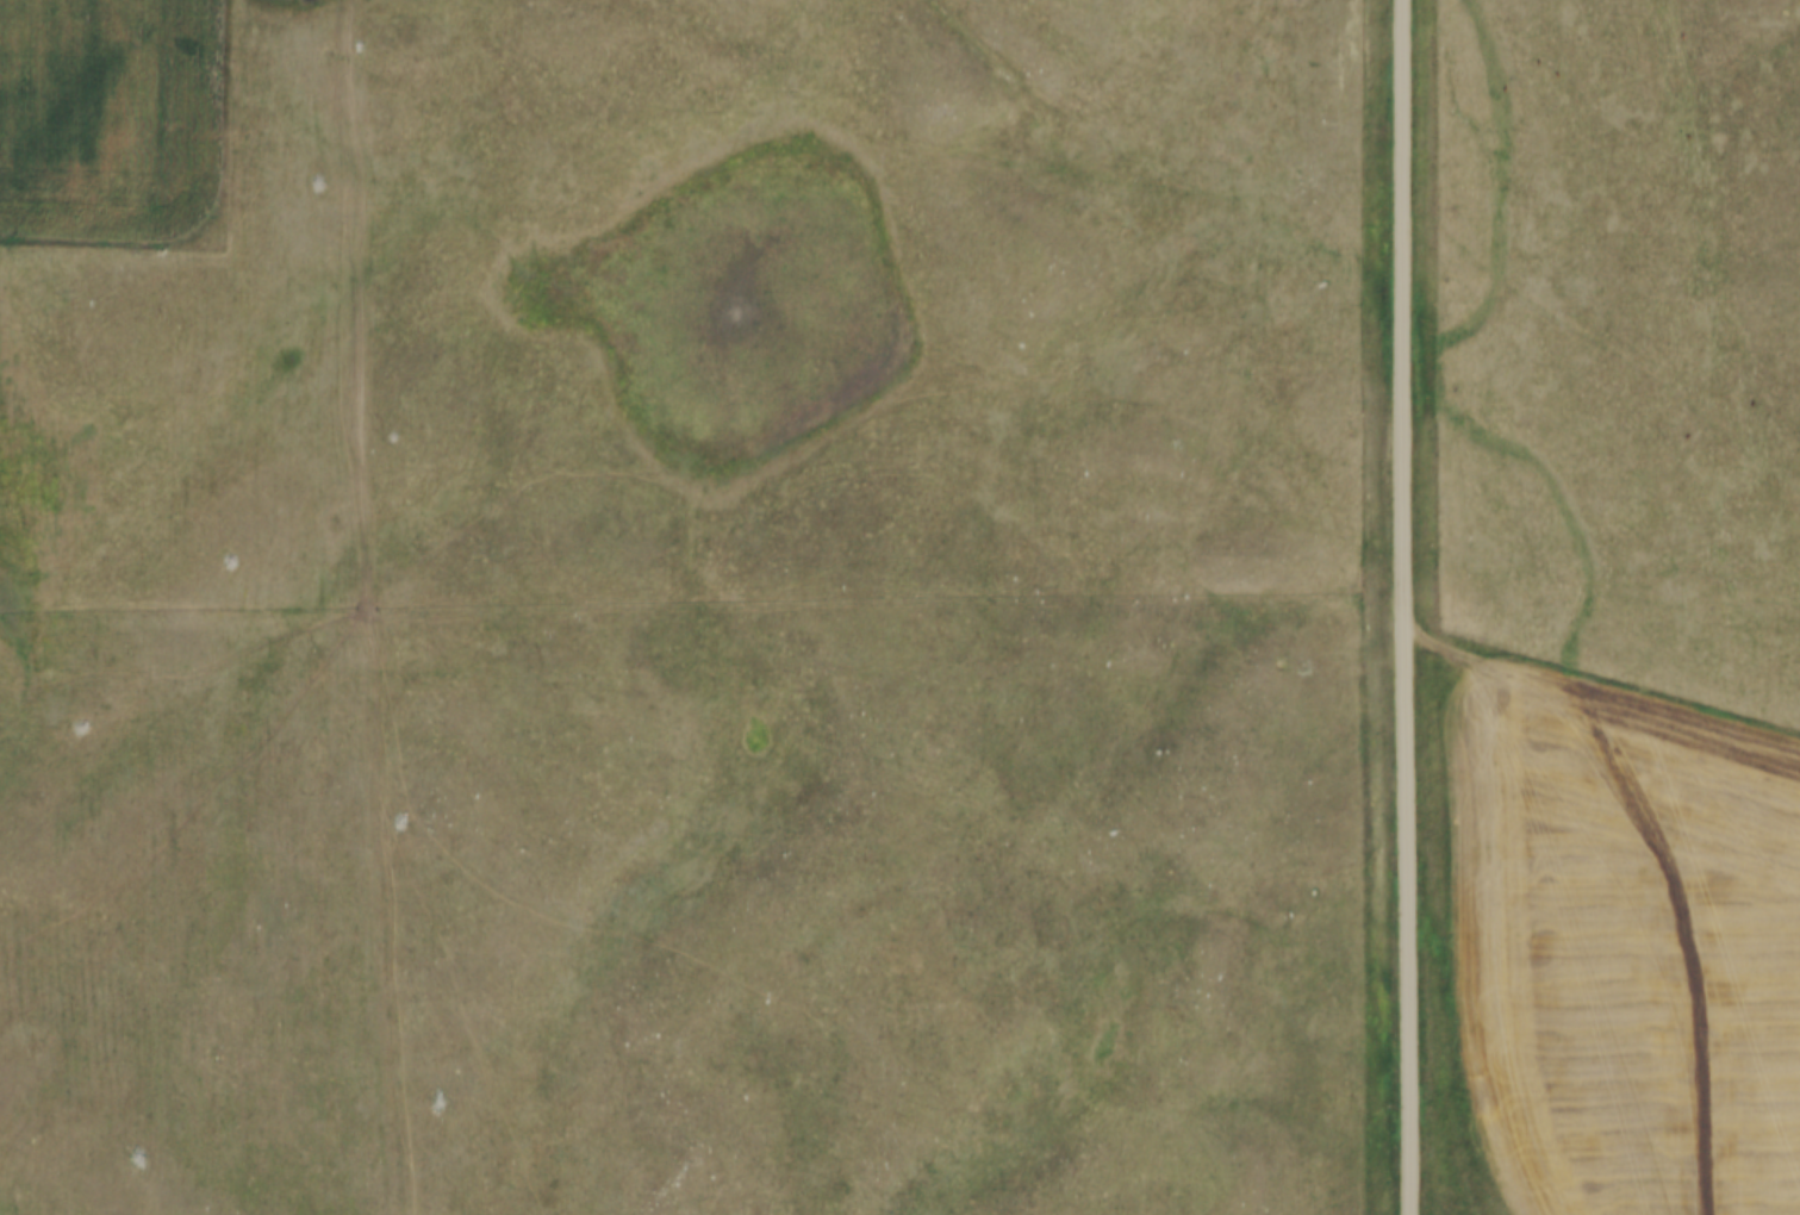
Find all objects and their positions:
road: (1407, 607)

